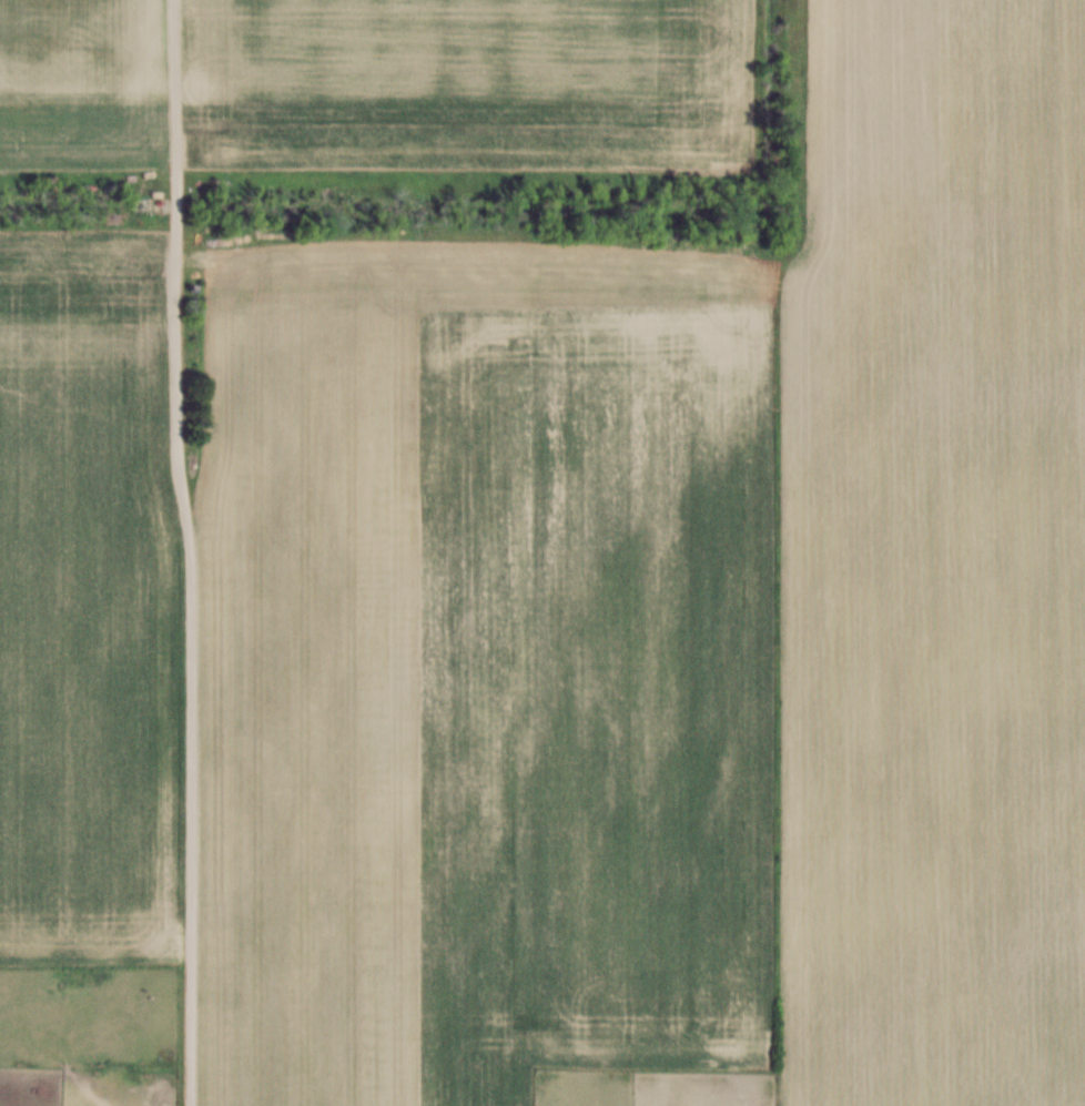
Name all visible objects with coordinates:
road: (168, 552)

